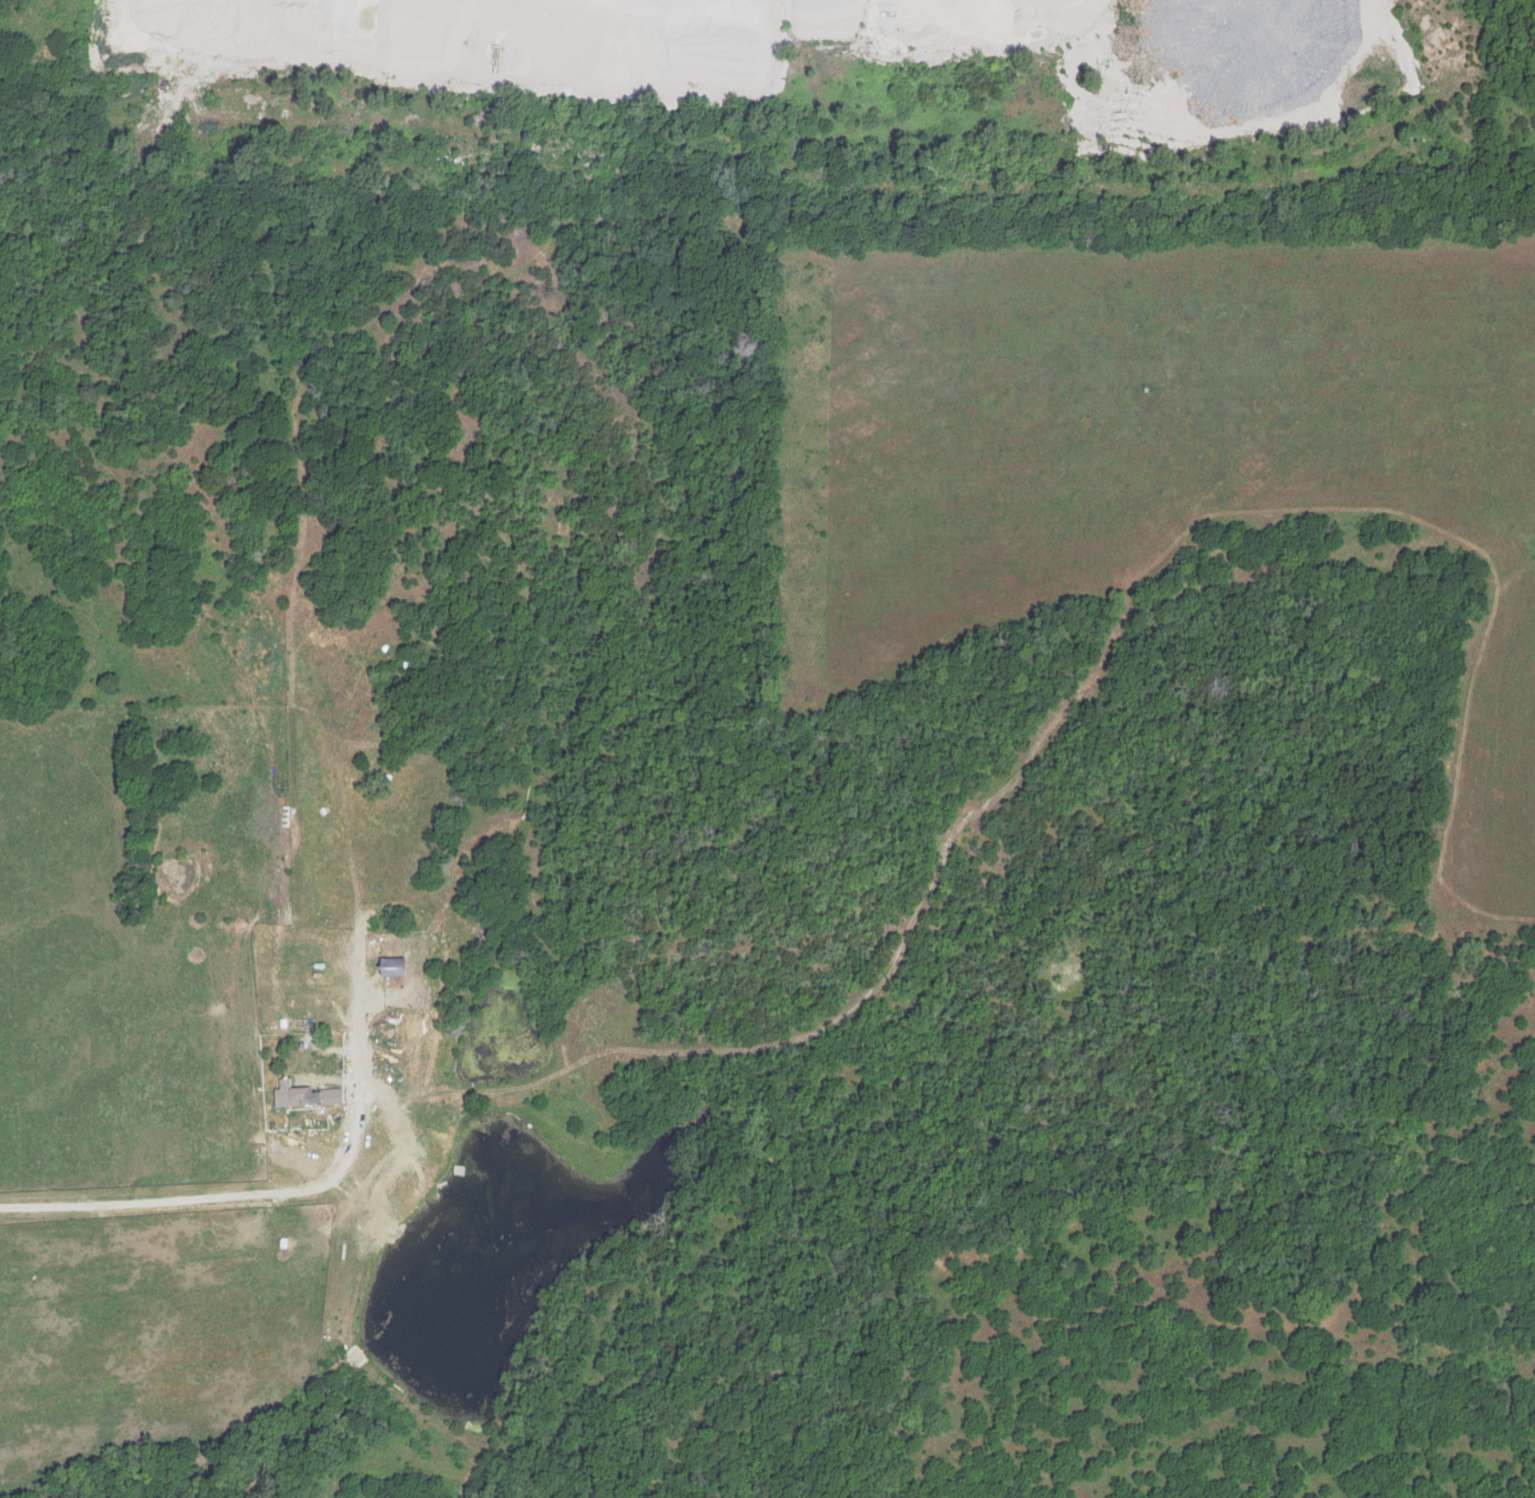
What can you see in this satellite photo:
road: (283, 1200)

